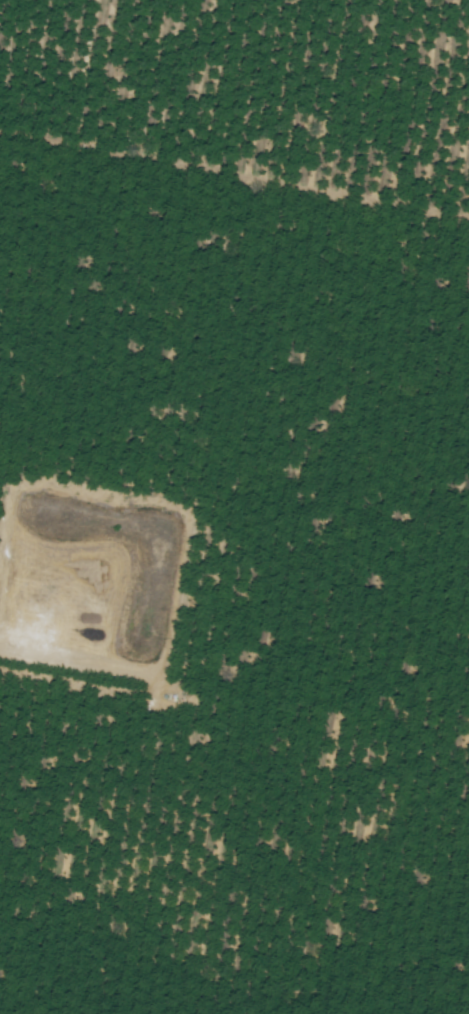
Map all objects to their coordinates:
building: (4, 407)

